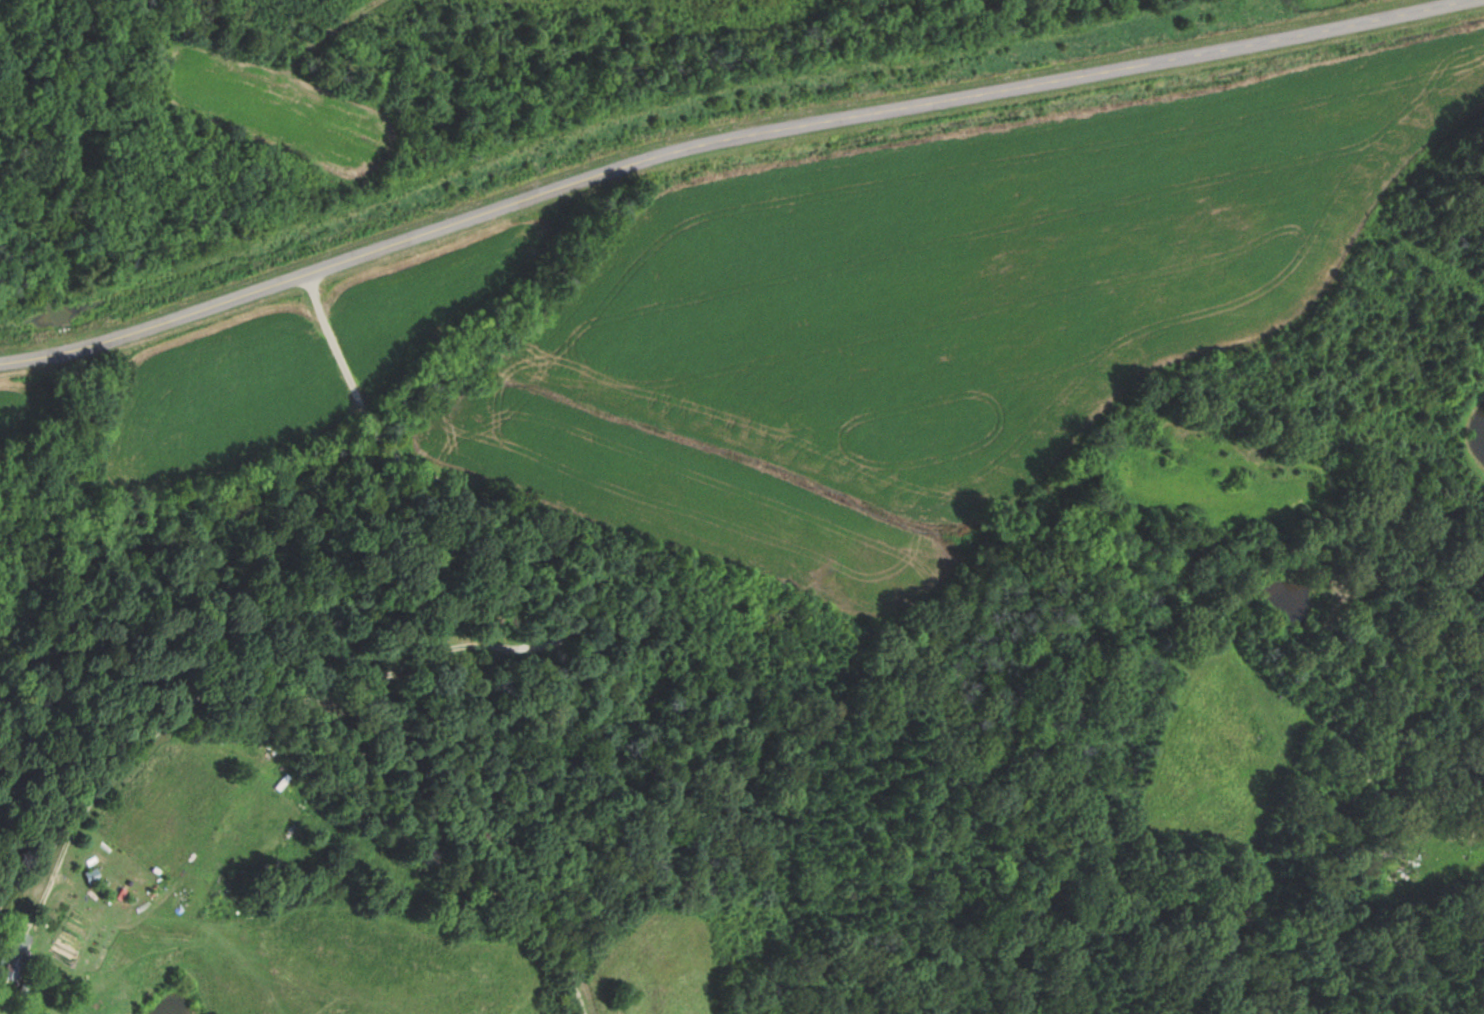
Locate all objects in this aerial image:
road: (719, 138)
road: (542, 542)
road: (147, 795)
road: (431, 890)
building: (19, 955)

